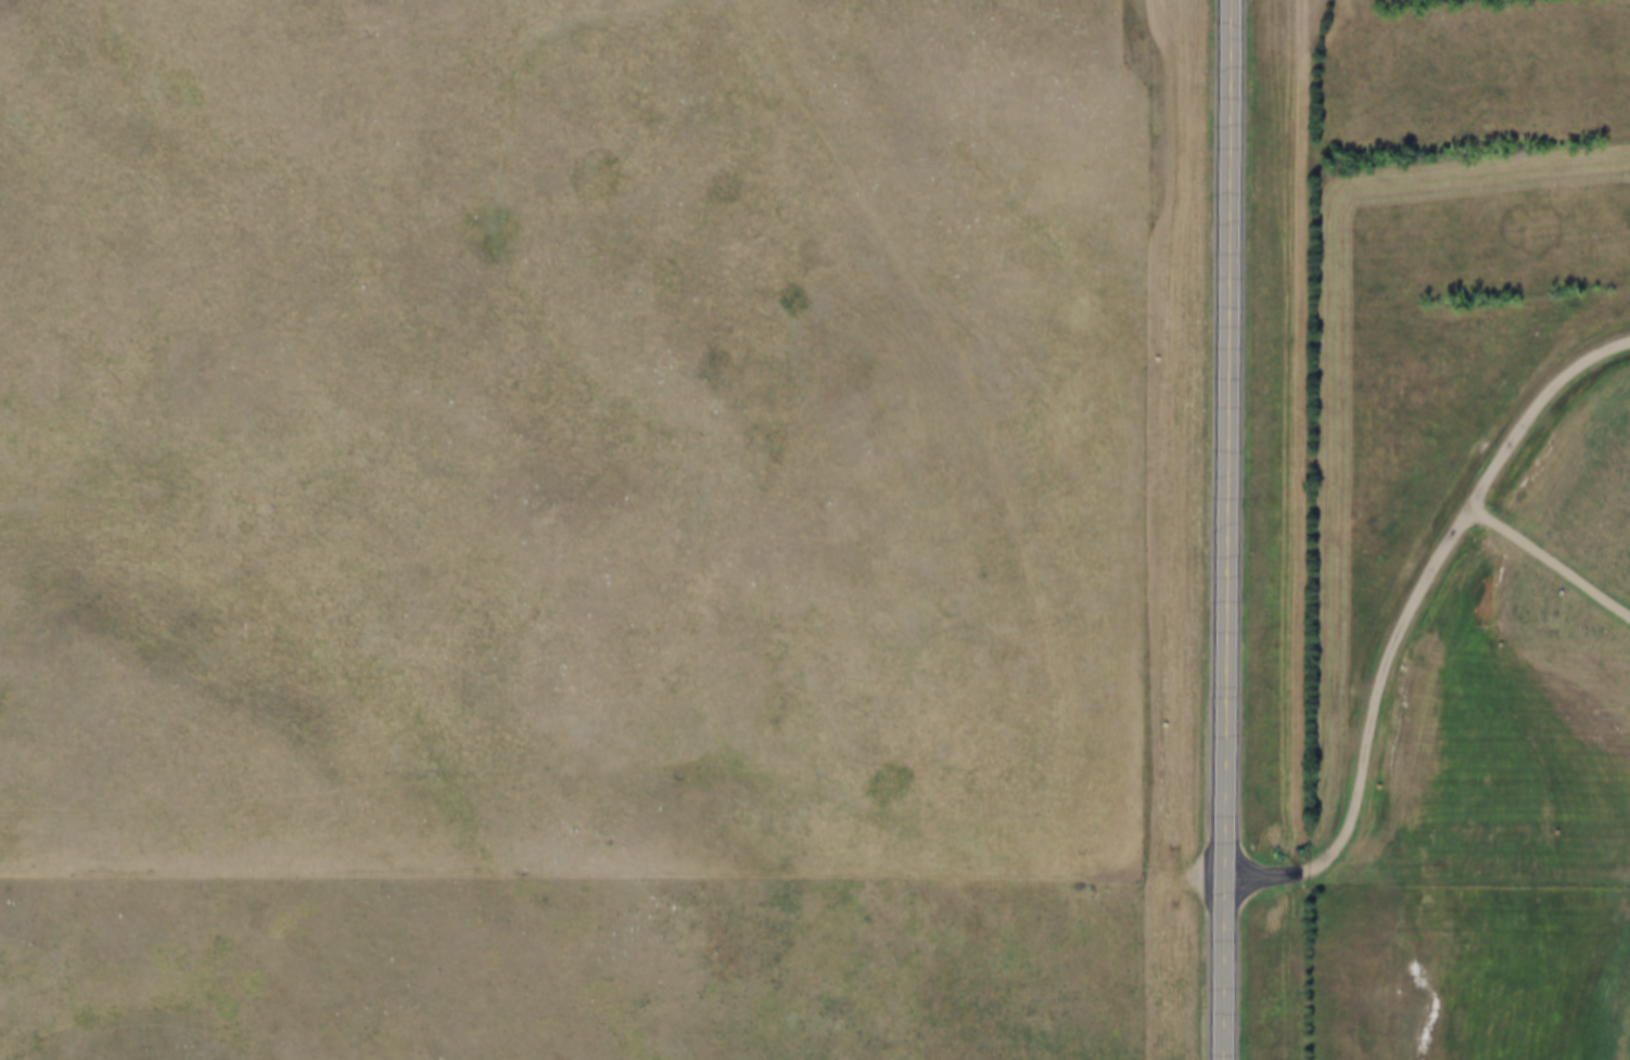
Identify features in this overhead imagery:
road: (1228, 529)
road: (1409, 618)

